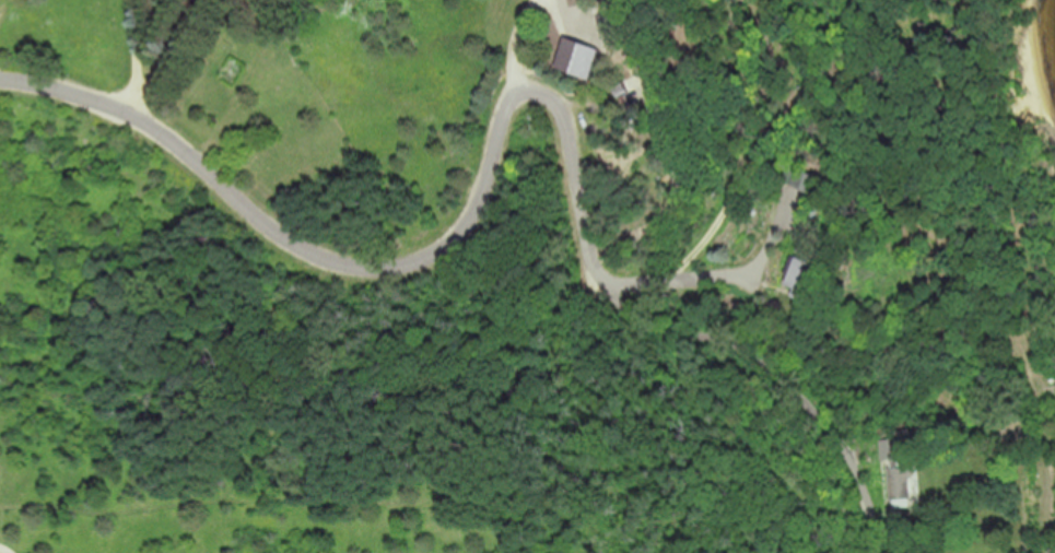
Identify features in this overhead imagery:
road: (521, 42)
road: (131, 45)
road: (161, 56)
road: (740, 146)
road: (433, 249)
building: (809, 274)
road: (712, 275)
road: (783, 373)
building: (902, 476)

